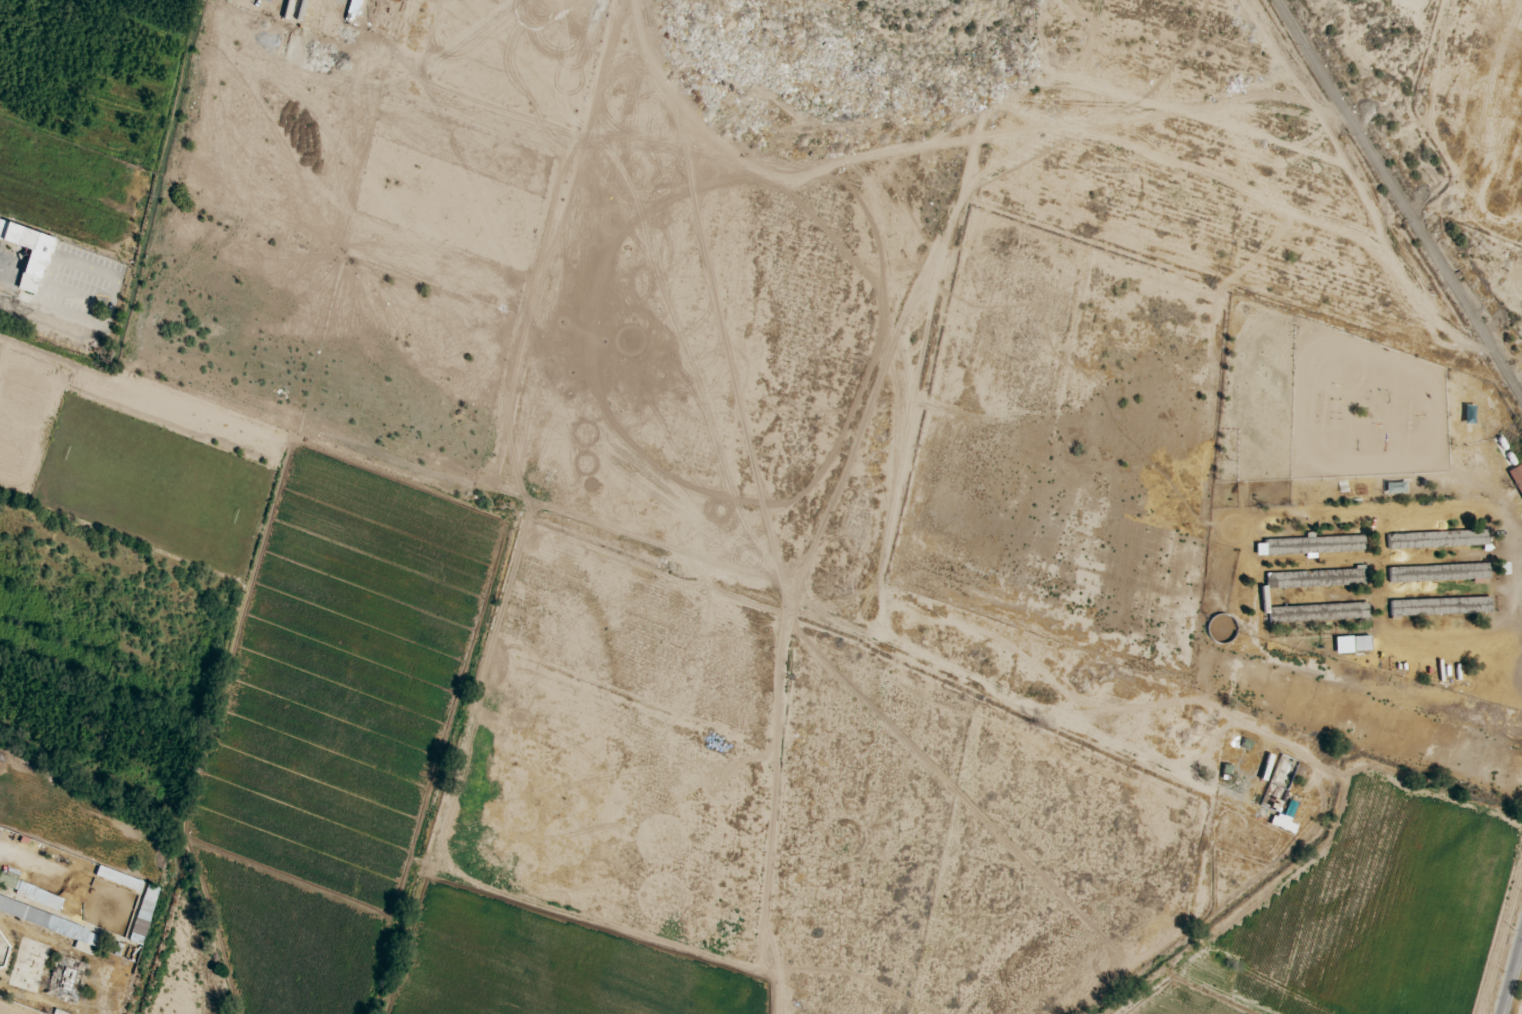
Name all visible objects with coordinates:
crop: (13, 449)
crop: (147, 485)
crop: (334, 733)
crop: (1369, 923)
road: (1510, 971)
crop: (175, 974)
crop: (483, 981)

